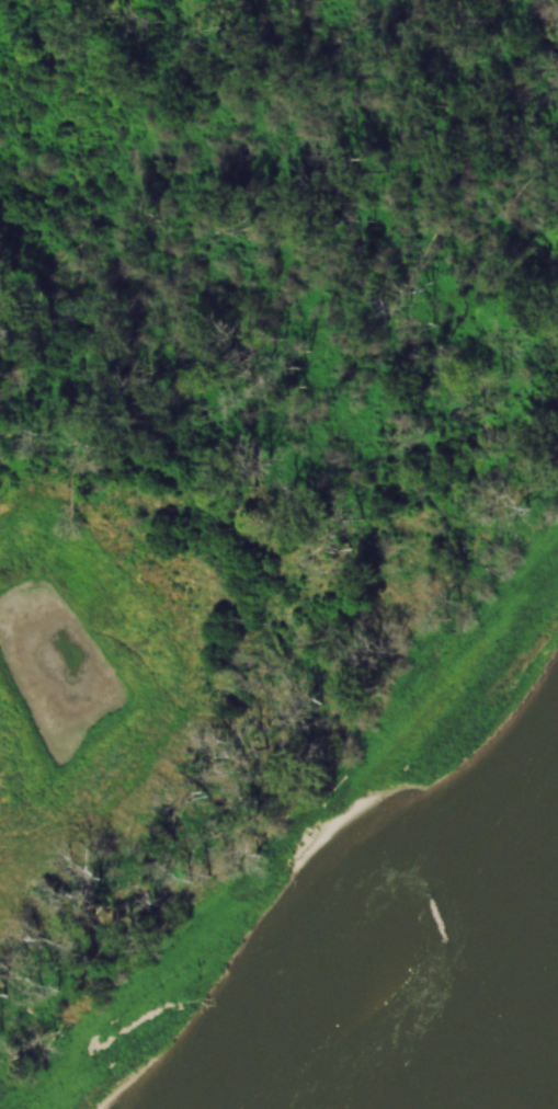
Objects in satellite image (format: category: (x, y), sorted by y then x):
park: (249, 449)
road: (200, 713)

